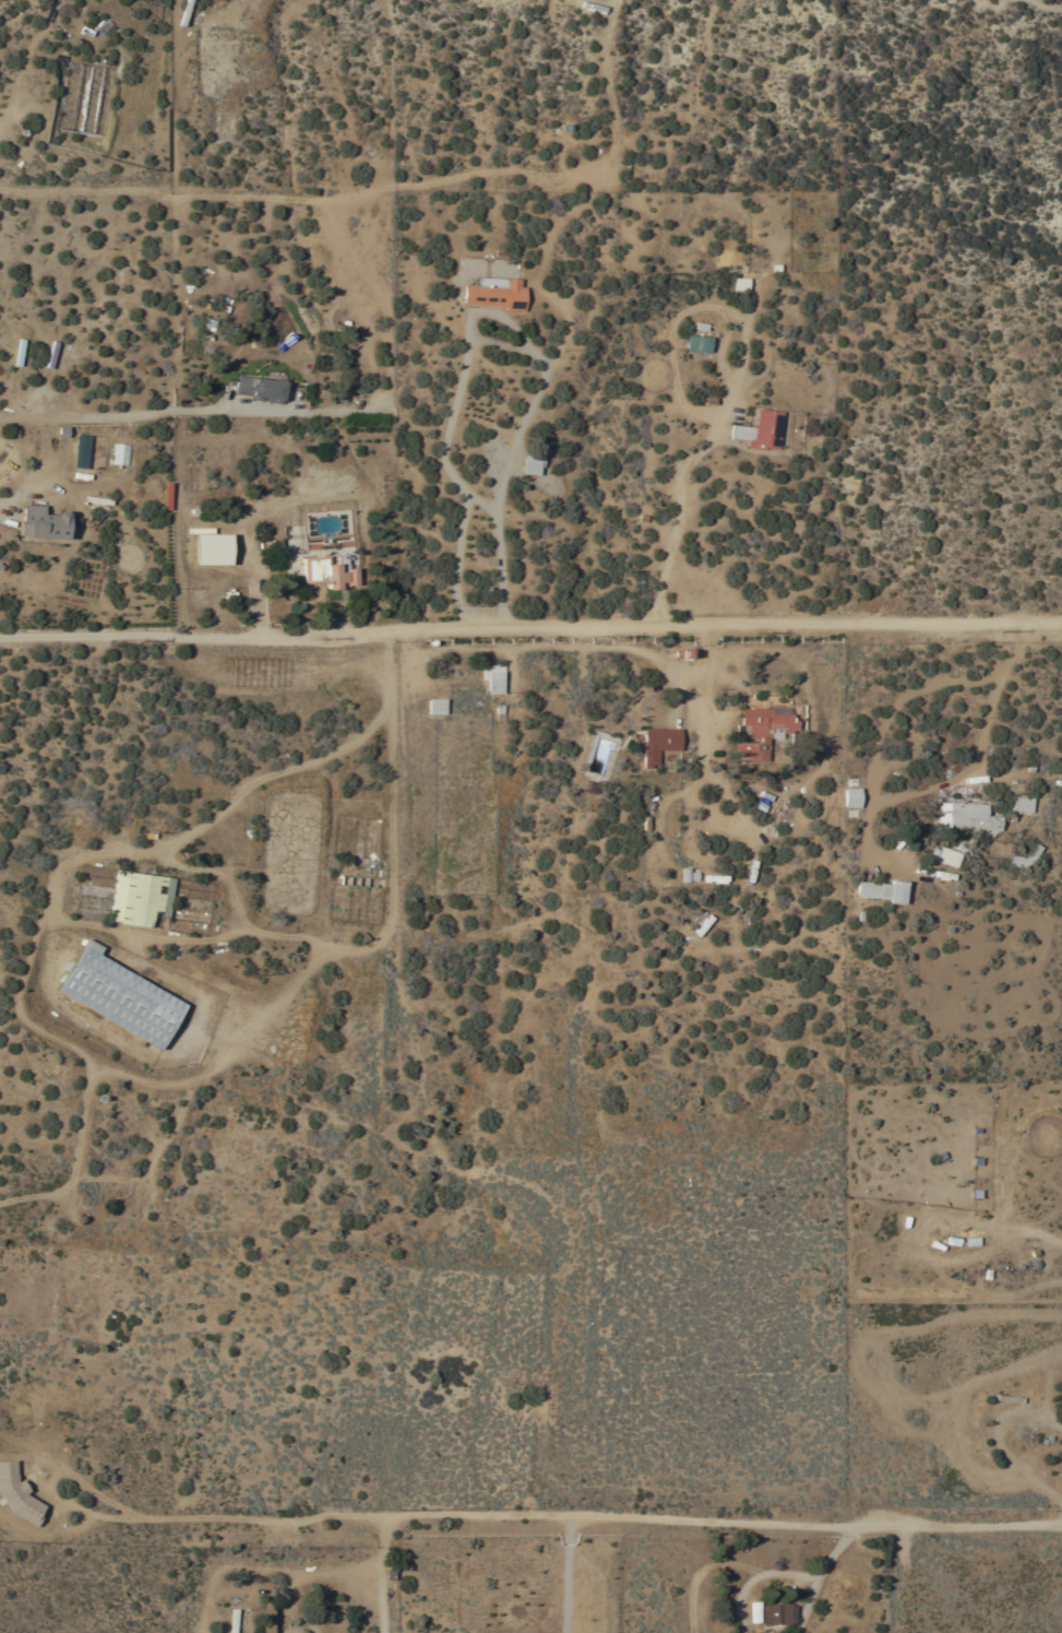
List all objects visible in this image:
building: (183, 12)
building: (739, 285)
building: (496, 293)
building: (191, 294)
road: (491, 316)
building: (697, 343)
building: (259, 389)
road: (147, 416)
building: (760, 429)
building: (82, 451)
road: (671, 496)
road: (484, 504)
building: (43, 523)
building: (213, 548)
building: (327, 571)
road: (530, 632)
building: (249, 672)
building: (491, 678)
building: (435, 706)
road: (990, 706)
building: (763, 729)
building: (658, 744)
road: (395, 788)
building: (850, 797)
building: (1018, 804)
building: (965, 815)
building: (946, 856)
building: (1024, 857)
building: (358, 871)
building: (713, 879)
building: (880, 891)
building: (140, 899)
road: (239, 915)
road: (32, 966)
building: (118, 996)
building: (27, 1507)
road: (525, 1520)
road: (383, 1576)
road: (569, 1576)
road: (759, 1577)
road: (824, 1578)
building: (776, 1614)
building: (264, 1620)

